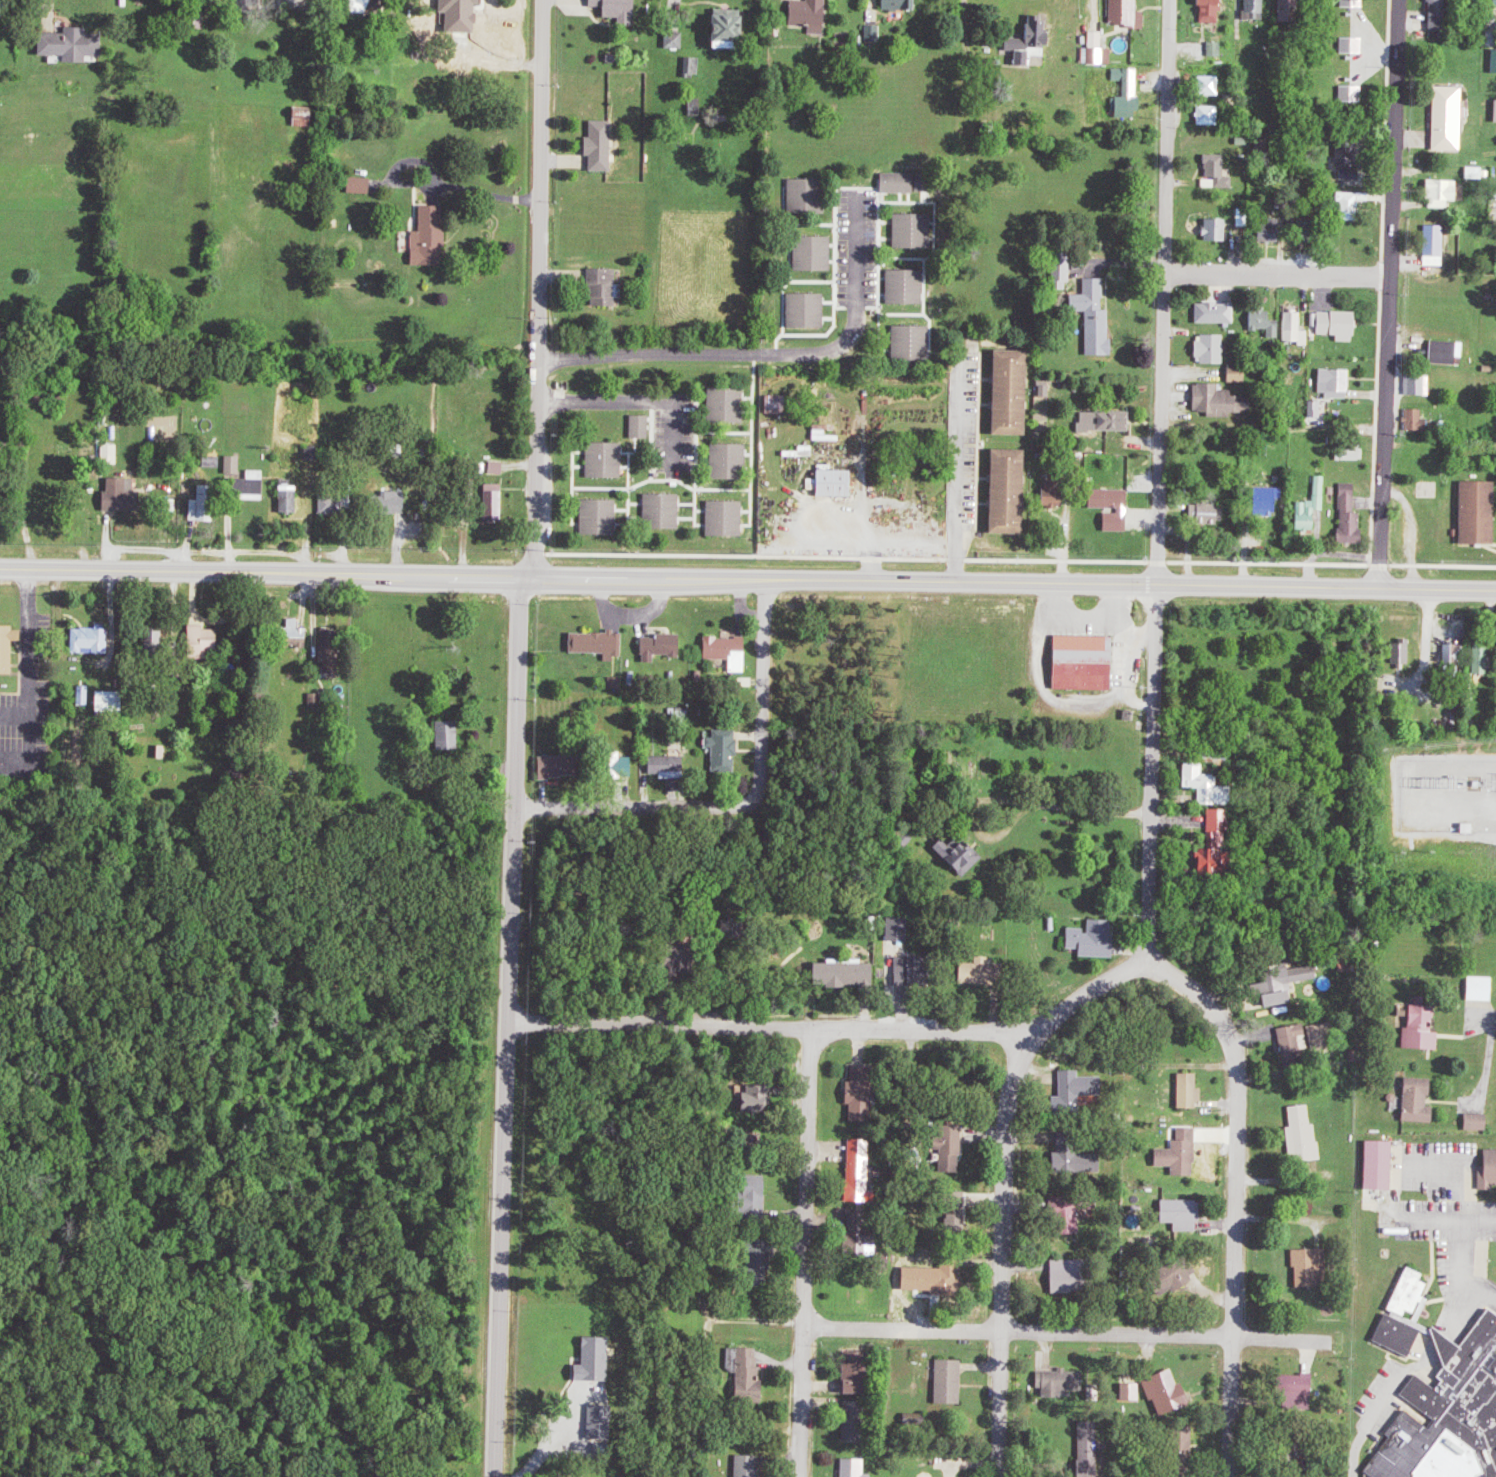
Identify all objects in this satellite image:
building: (1472, 0)
building: (258, 2)
building: (1353, 2)
building: (1494, 3)
building: (902, 5)
building: (621, 7)
building: (1210, 9)
building: (1256, 9)
building: (1127, 13)
building: (466, 14)
building: (1437, 14)
building: (815, 15)
road: (46, 17)
road: (1093, 20)
building: (742, 31)
building: (1029, 40)
building: (1353, 44)
building: (78, 45)
building: (1099, 48)
building: (1217, 48)
road: (972, 59)
building: (1494, 60)
building: (1209, 84)
building: (1127, 92)
building: (1352, 92)
building: (1495, 111)
building: (1210, 114)
building: (307, 117)
building: (1447, 117)
building: (605, 146)
building: (1348, 156)
building: (1218, 171)
building: (1477, 171)
building: (365, 187)
building: (1445, 191)
building: (1349, 204)
building: (1216, 228)
building: (1268, 230)
building: (433, 237)
building: (1092, 244)
building: (1435, 244)
building: (821, 255)
building: (1061, 274)
road: (1277, 276)
road: (538, 286)
building: (909, 287)
road: (1387, 295)
building: (811, 311)
building: (1216, 311)
building: (1094, 315)
building: (1264, 320)
building: (1337, 323)
building: (1297, 328)
building: (919, 341)
building: (1211, 347)
road: (765, 352)
building: (1237, 372)
road: (1184, 375)
building: (1335, 381)
building: (1423, 384)
building: (1009, 391)
road: (636, 399)
building: (1220, 400)
building: (1316, 408)
building: (1414, 418)
building: (1105, 420)
building: (644, 427)
road: (1271, 428)
building: (1351, 451)
building: (114, 453)
building: (736, 456)
building: (608, 462)
building: (234, 465)
road: (957, 472)
road: (1157, 483)
building: (255, 484)
building: (841, 484)
building: (1007, 490)
building: (1052, 493)
building: (125, 496)
building: (293, 500)
building: (1264, 500)
building: (334, 505)
building: (1313, 505)
building: (1112, 506)
building: (666, 511)
building: (1204, 511)
building: (1478, 511)
building: (1350, 514)
building: (729, 519)
road: (866, 541)
road: (747, 576)
road: (110, 626)
building: (294, 629)
building: (202, 639)
building: (93, 640)
building: (598, 643)
building: (664, 647)
building: (334, 648)
building: (9, 649)
building: (731, 652)
building: (1401, 652)
road: (1423, 655)
building: (1453, 657)
building: (1483, 658)
building: (1083, 661)
building: (112, 702)
building: (451, 736)
building: (728, 751)
building: (1209, 755)
building: (1207, 784)
road: (1458, 789)
road: (744, 801)
road: (1172, 821)
building: (1213, 841)
building: (1092, 938)
building: (848, 974)
building: (1281, 982)
building: (1482, 987)
road: (764, 1024)
road: (506, 1025)
building: (1421, 1027)
building: (1294, 1039)
building: (1075, 1085)
building: (1189, 1090)
building: (1417, 1099)
building: (1476, 1120)
building: (1303, 1134)
building: (1180, 1152)
building: (1075, 1158)
building: (1378, 1163)
building: (1488, 1167)
road: (1004, 1184)
road: (1234, 1200)
building: (1070, 1211)
road: (1468, 1213)
road: (1454, 1219)
road: (804, 1253)
building: (1305, 1266)
building: (1065, 1276)
road: (1067, 1332)
building: (1059, 1380)
building: (953, 1382)
building: (1294, 1385)
building: (1130, 1390)
building: (1167, 1390)
building: (1435, 1396)
road: (1369, 1421)
building: (1181, 1437)
building: (1088, 1446)
building: (856, 1468)

